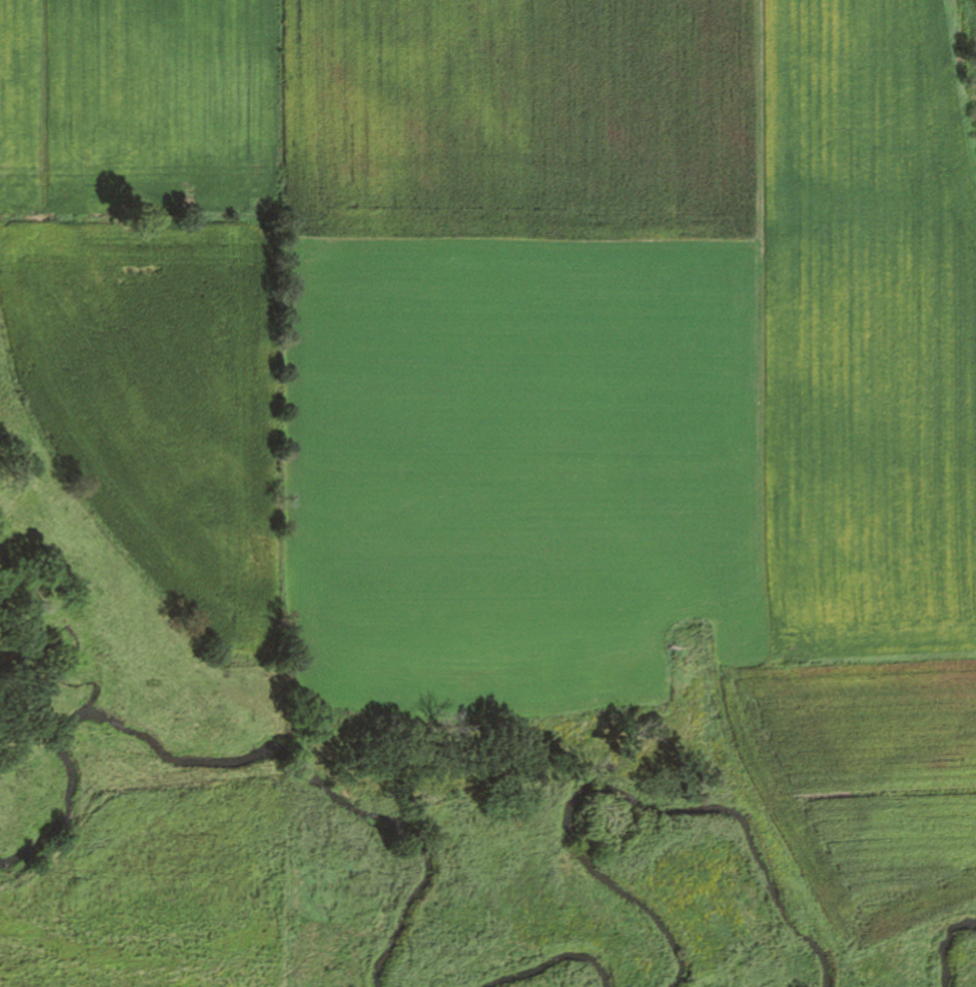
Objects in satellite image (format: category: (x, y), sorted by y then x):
river: (249, 759)
river: (633, 790)
river: (946, 949)
river: (542, 965)

